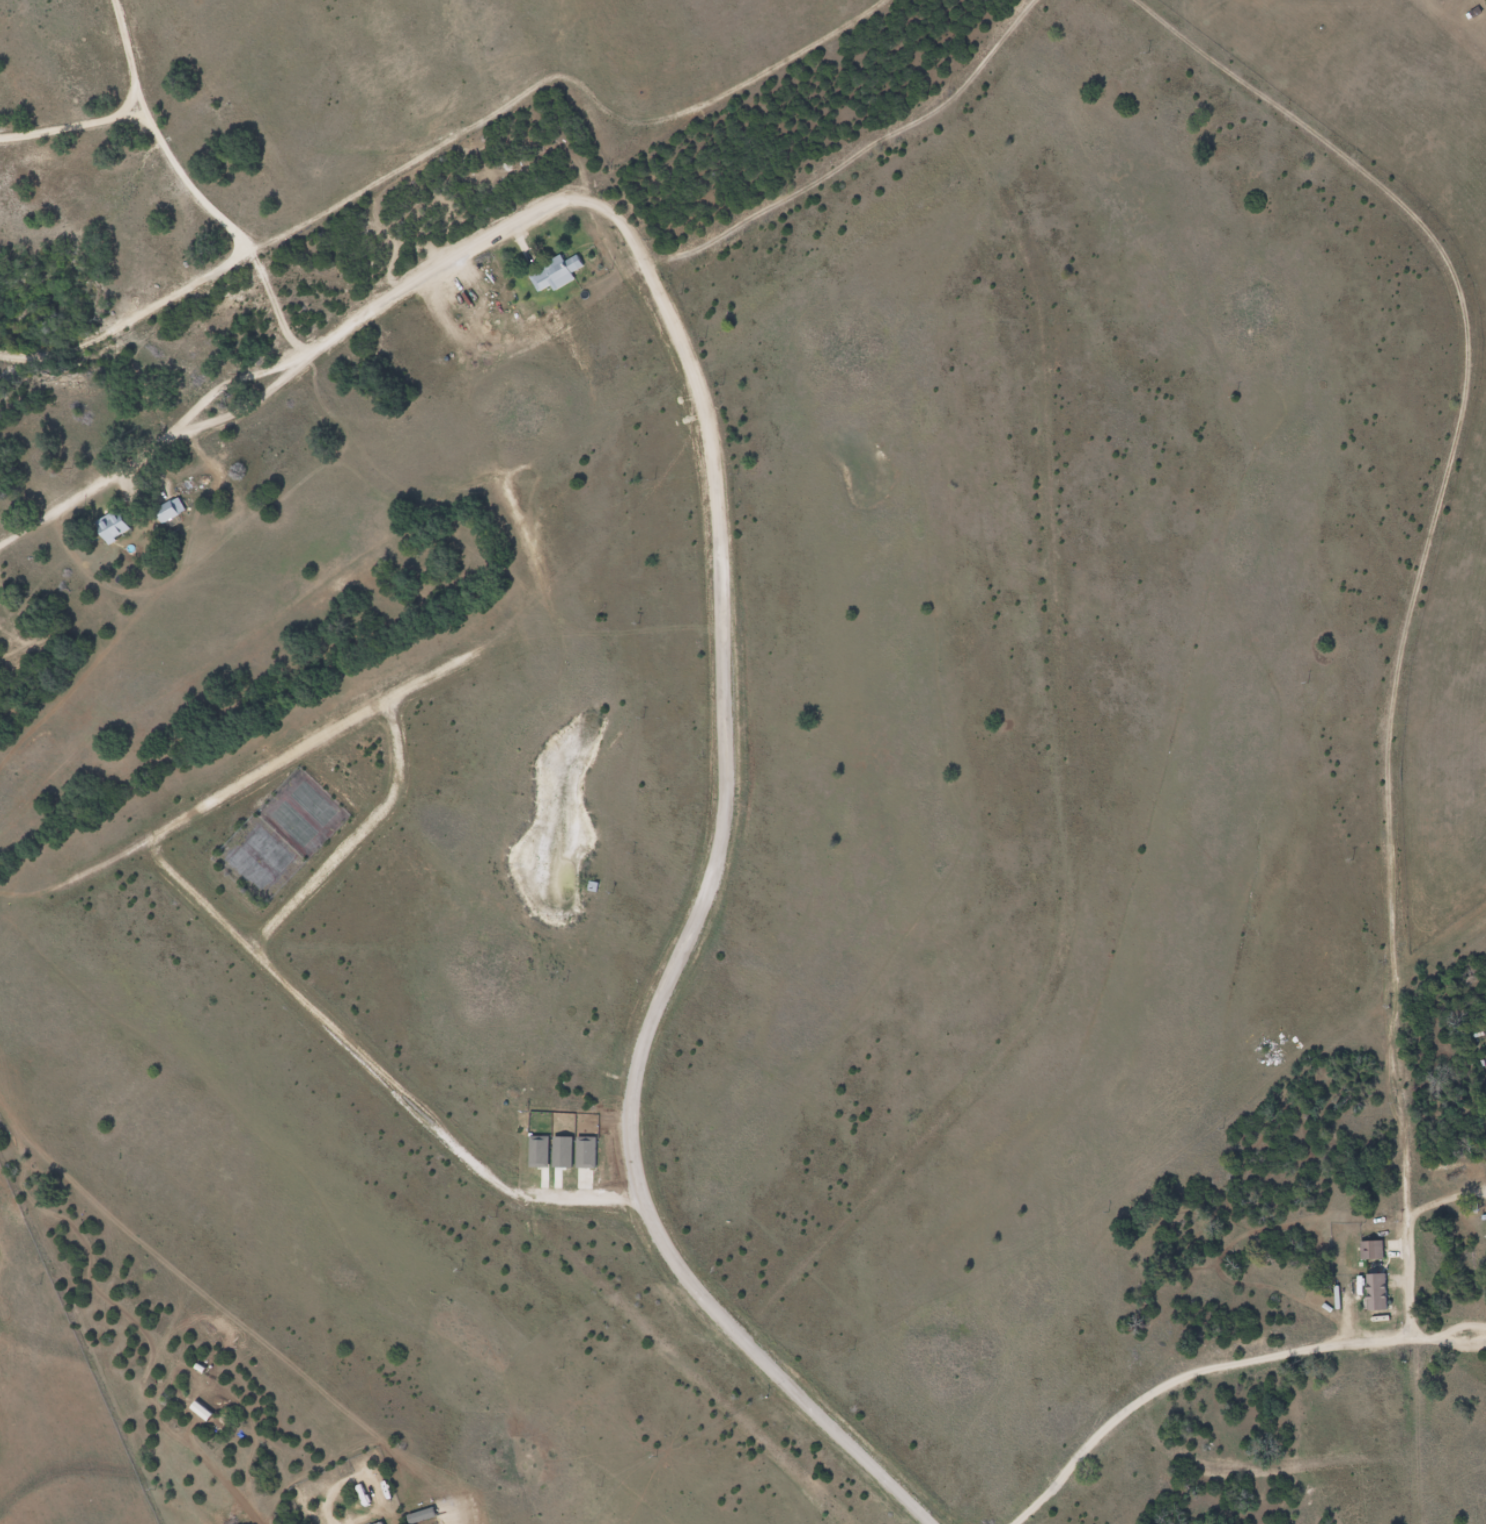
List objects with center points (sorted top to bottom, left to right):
road: (1132, 4)
road: (868, 163)
road: (203, 200)
road: (662, 261)
building: (558, 274)
road: (279, 313)
road: (340, 329)
building: (171, 513)
building: (117, 526)
road: (1423, 600)
road: (306, 750)
road: (356, 839)
road: (677, 970)
road: (370, 1068)
building: (1375, 1251)
building: (1380, 1293)
road: (1235, 1374)

